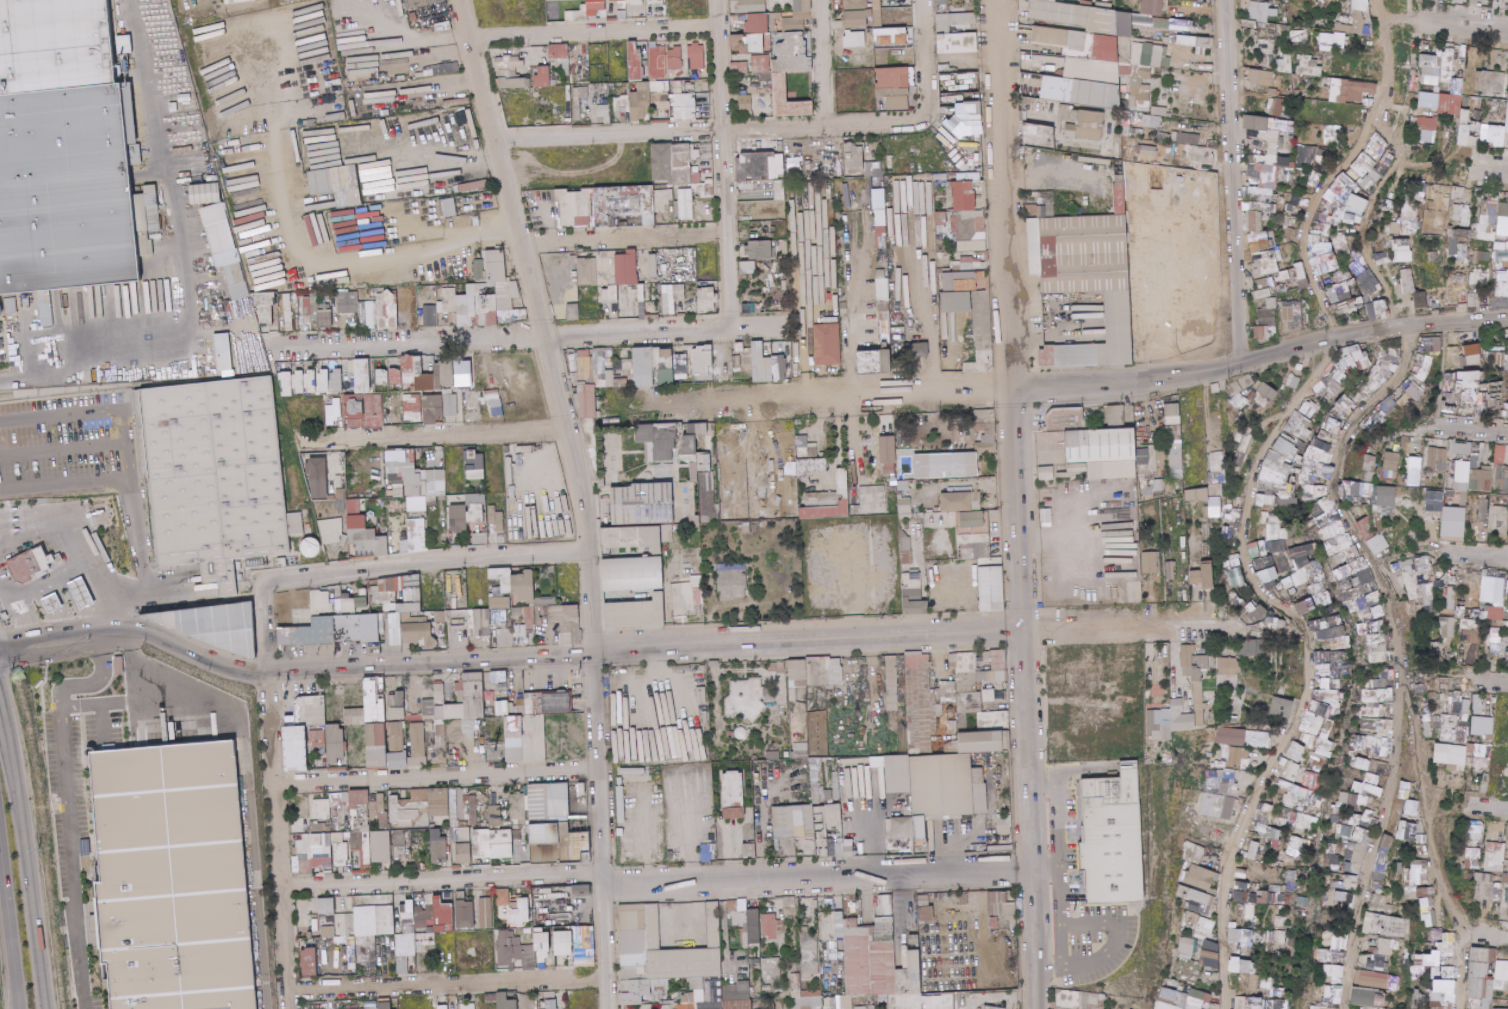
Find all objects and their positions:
road: (1234, 185)
road: (1018, 504)
gas station: (83, 590)
gas station: (53, 600)
gas station: (20, 605)
power tower: (11, 672)
parking lot: (276, 679)
parking lot: (559, 680)
power tower: (38, 848)
parking lot: (1082, 891)

